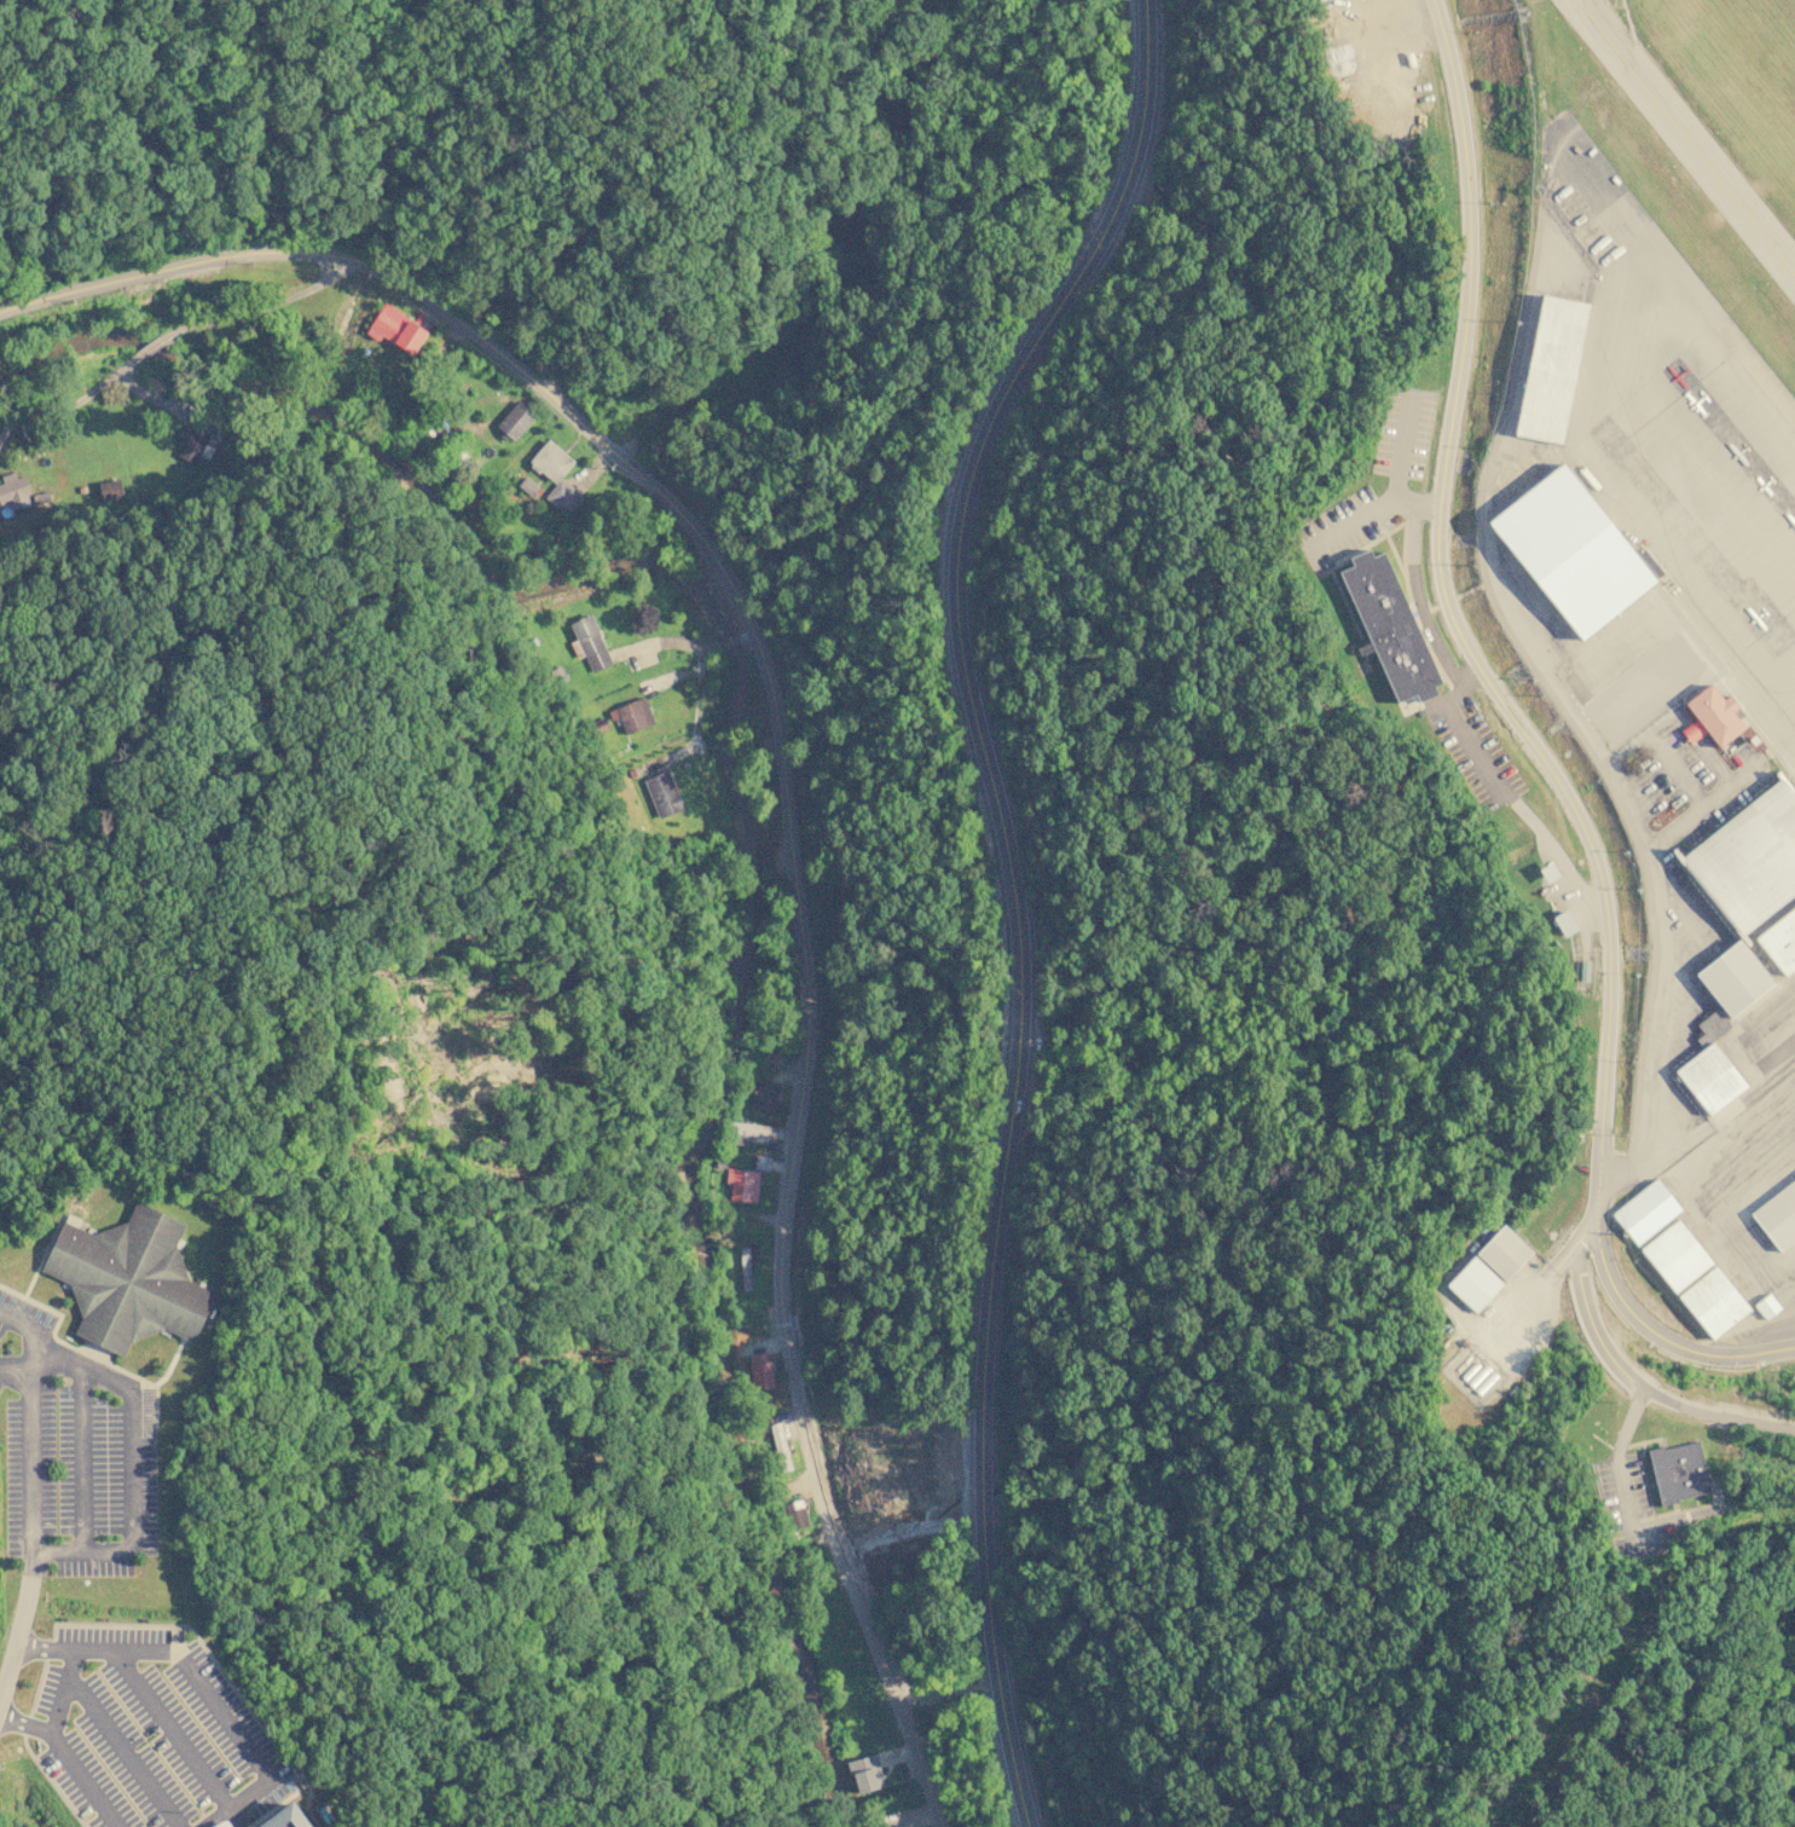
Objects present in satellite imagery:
airport: (619, 23)
airport taxiway: (1685, 138)
road: (257, 305)
building: (396, 328)
road: (146, 348)
building: (1547, 370)
road: (69, 405)
building: (513, 421)
airport apron: (1680, 433)
building: (193, 444)
building: (550, 459)
building: (527, 485)
building: (13, 487)
building: (110, 490)
building: (562, 496)
building: (1564, 555)
building: (1390, 625)
road: (1454, 625)
building: (589, 642)
building: (1658, 670)
airport terminal: (1708, 713)
building: (1708, 713)
building: (631, 715)
airport: (1592, 723)
road: (783, 780)
building: (661, 793)
river: (739, 810)
building: (1744, 858)
road: (1013, 891)
building: (1564, 923)
building: (1778, 941)
building: (1733, 978)
building: (1710, 1025)
building: (1707, 1080)
building: (764, 1095)
building: (754, 1133)
building: (762, 1162)
building: (742, 1184)
building: (1644, 1212)
building: (1777, 1216)
building: (1673, 1256)
building: (1492, 1273)
building: (133, 1279)
building: (1709, 1302)
building: (1765, 1307)
road: (22, 1324)
road: (1660, 1336)
road: (31, 1364)
building: (759, 1370)
road: (13, 1375)
road: (1631, 1380)
road: (81, 1458)
building: (1677, 1470)
building: (794, 1514)
road: (128, 1550)
road: (24, 1600)
road: (33, 1649)
road: (186, 1669)
road: (6, 1670)
road: (62, 1690)
road: (25, 1725)
road: (173, 1731)
road: (121, 1752)
building: (864, 1771)
road: (86, 1780)
road: (241, 1805)
building: (285, 1817)
building: (225, 1825)

